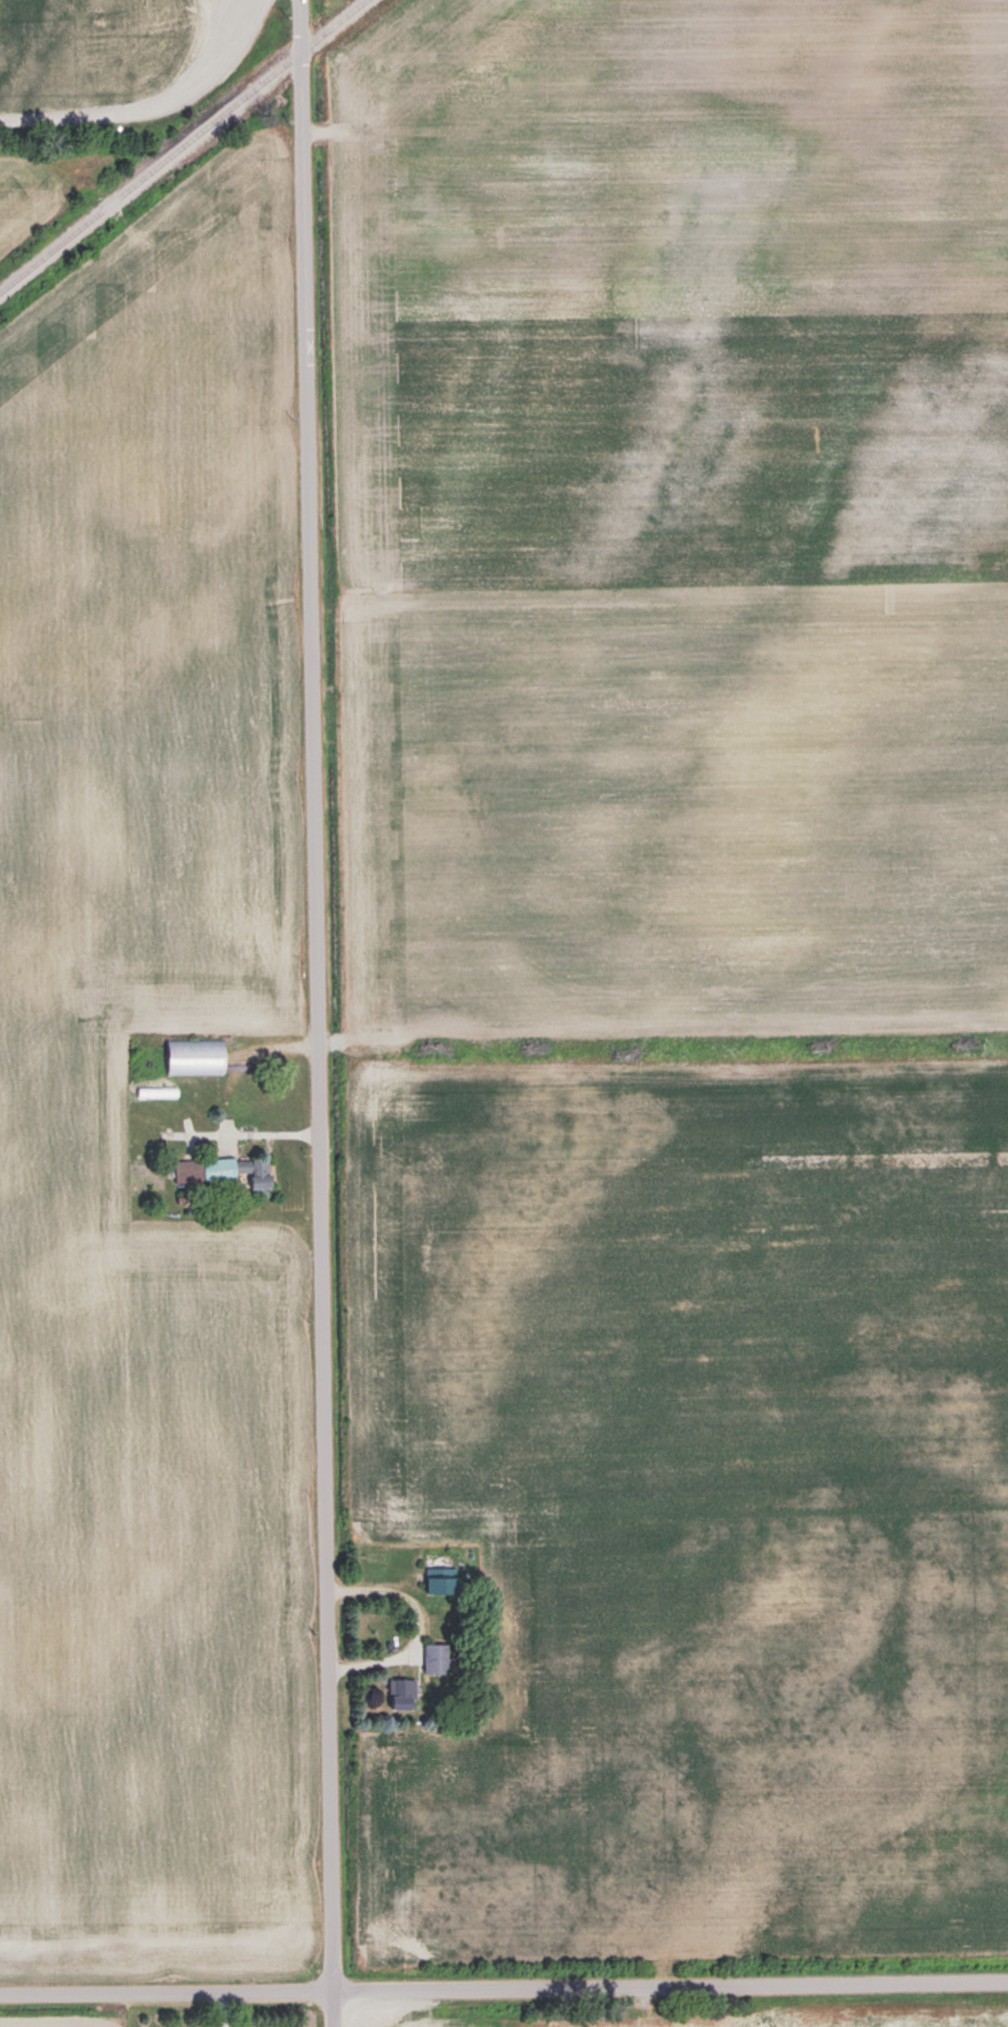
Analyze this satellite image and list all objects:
road: (162, 114)
railway: (183, 145)
building: (380, 171)
road: (323, 1013)
building: (198, 1056)
building: (227, 1169)
building: (444, 1574)
building: (437, 1659)
building: (403, 1694)
road: (504, 1992)
building: (216, 2024)

